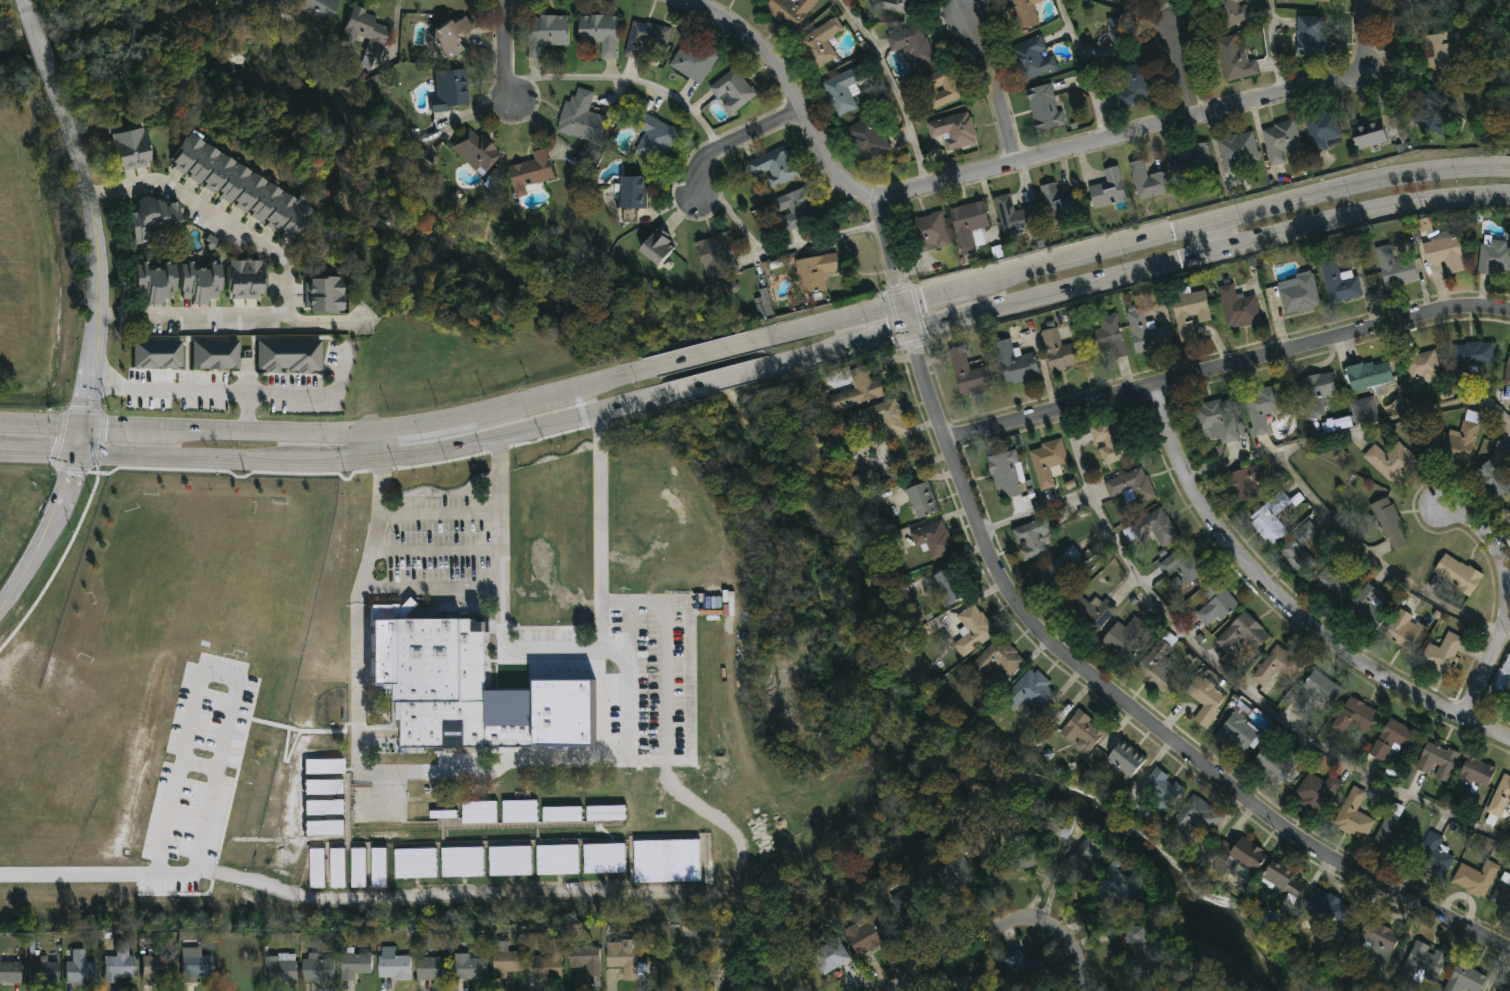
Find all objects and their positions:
road: (22, 1)
building: (1318, 1)
building: (1130, 3)
building: (897, 6)
building: (1413, 6)
building: (315, 8)
building: (246, 11)
building: (790, 11)
building: (1233, 12)
building: (1023, 14)
road: (1363, 20)
building: (366, 32)
building: (546, 35)
building: (600, 35)
building: (450, 36)
building: (1311, 37)
building: (1115, 39)
building: (648, 44)
building: (820, 44)
building: (912, 47)
road: (1273, 49)
road: (506, 53)
building: (1442, 53)
road: (42, 55)
building: (1033, 59)
building: (695, 60)
building: (1235, 61)
road: (1084, 71)
road: (1182, 77)
road: (629, 82)
building: (1134, 86)
building: (451, 89)
building: (842, 90)
road: (896, 90)
road: (991, 90)
building: (939, 91)
building: (731, 92)
building: (1044, 108)
building: (1433, 113)
building: (581, 119)
building: (953, 131)
building: (1323, 131)
building: (1368, 136)
building: (654, 139)
building: (867, 141)
building: (1280, 141)
road: (734, 147)
building: (128, 150)
building: (475, 152)
building: (1238, 152)
building: (1197, 166)
building: (773, 168)
building: (531, 173)
road: (989, 175)
road: (1359, 180)
building: (1149, 182)
building: (237, 188)
building: (1107, 190)
building: (631, 194)
building: (1059, 205)
building: (794, 210)
road: (1363, 210)
building: (1016, 216)
road: (216, 218)
building: (154, 220)
building: (969, 225)
road: (1191, 227)
building: (929, 233)
road: (1218, 239)
building: (656, 249)
road: (779, 249)
road: (891, 250)
building: (1444, 254)
road: (1065, 256)
building: (717, 257)
building: (1494, 258)
road: (1193, 259)
road: (100, 263)
building: (1394, 270)
building: (815, 274)
building: (243, 279)
building: (197, 283)
building: (152, 284)
building: (1341, 284)
road: (934, 290)
building: (1295, 295)
building: (323, 296)
road: (1038, 296)
building: (763, 304)
building: (1238, 309)
road: (909, 313)
building: (1189, 315)
road: (828, 319)
road: (234, 320)
road: (887, 335)
building: (1145, 335)
building: (1108, 338)
building: (157, 350)
building: (216, 350)
building: (289, 353)
building: (1061, 353)
road: (696, 354)
road: (816, 354)
building: (1471, 359)
building: (1015, 365)
building: (1423, 367)
road: (1228, 372)
building: (969, 375)
building: (1369, 376)
building: (1506, 376)
road: (721, 379)
road: (601, 381)
road: (189, 391)
building: (858, 391)
building: (1315, 394)
road: (316, 396)
building: (1261, 409)
building: (1364, 411)
road: (470, 415)
building: (879, 419)
road: (43, 421)
building: (1218, 421)
traffic signals: (86, 422)
road: (122, 423)
building: (1335, 425)
road: (492, 426)
road: (1353, 429)
road: (269, 430)
road: (526, 431)
road: (81, 437)
road: (379, 441)
building: (1458, 441)
building: (1111, 444)
road: (38, 451)
traffic signals: (77, 452)
road: (185, 456)
road: (337, 457)
building: (899, 458)
building: (1391, 462)
building: (1047, 463)
building: (1495, 471)
building: (1005, 476)
building: (864, 481)
building: (1246, 483)
building: (1130, 487)
building: (922, 500)
building: (1509, 508)
road: (437, 513)
building: (1271, 518)
building: (1389, 524)
building: (1154, 530)
road: (47, 537)
building: (933, 538)
road: (500, 539)
building: (1032, 540)
building: (1299, 546)
road: (434, 550)
road: (1375, 557)
building: (1177, 570)
building: (1457, 575)
building: (1058, 576)
building: (950, 585)
road: (431, 586)
building: (1333, 587)
building: (1216, 605)
road: (1507, 607)
building: (1367, 608)
road: (1286, 612)
building: (1094, 613)
building: (973, 632)
building: (1405, 632)
road: (603, 633)
building: (1242, 635)
building: (1125, 639)
road: (612, 652)
building: (1441, 654)
building: (996, 660)
building: (1507, 666)
building: (1155, 668)
building: (1277, 669)
building: (429, 674)
road: (236, 679)
road: (356, 683)
road: (665, 683)
road: (1233, 683)
building: (1033, 691)
building: (1317, 693)
building: (1507, 693)
building: (1205, 700)
road: (1130, 713)
building: (1355, 717)
building: (1082, 733)
building: (1237, 735)
building: (1392, 740)
building: (1124, 760)
building: (1276, 760)
building: (1436, 762)
building: (324, 766)
road: (202, 768)
building: (1471, 777)
building: (324, 787)
building: (1159, 791)
building: (1317, 793)
building: (1500, 798)
building: (325, 807)
building: (520, 811)
building: (479, 812)
building: (607, 813)
building: (562, 814)
building: (1353, 817)
building: (1195, 818)
building: (325, 828)
building: (1393, 839)
building: (1246, 854)
building: (1081, 856)
building: (605, 858)
building: (1433, 858)
building: (558, 860)
building: (1018, 860)
building: (511, 861)
building: (668, 861)
building: (463, 862)
building: (416, 863)
building: (379, 867)
building: (318, 868)
building: (338, 868)
building: (359, 868)
road: (79, 876)
building: (953, 878)
building: (1283, 879)
building: (1474, 879)
building: (1109, 883)
building: (1503, 892)
road: (543, 898)
building: (1328, 908)
building: (908, 911)
building: (693, 926)
building: (868, 934)
road: (957, 942)
building: (1378, 945)
road: (1080, 946)
building: (1136, 948)
building: (621, 955)
building: (830, 957)
building: (507, 961)
building: (548, 962)
building: (584, 962)
building: (1425, 962)
building: (194, 965)
building: (393, 965)
building: (1024, 967)
building: (79, 968)
building: (119, 968)
building: (356, 968)
building: (470, 968)
building: (156, 969)
building: (433, 969)
building: (280, 970)
building: (318, 971)
building: (43, 972)
building: (10, 973)
building: (1465, 979)
building: (975, 984)
building: (1507, 987)

